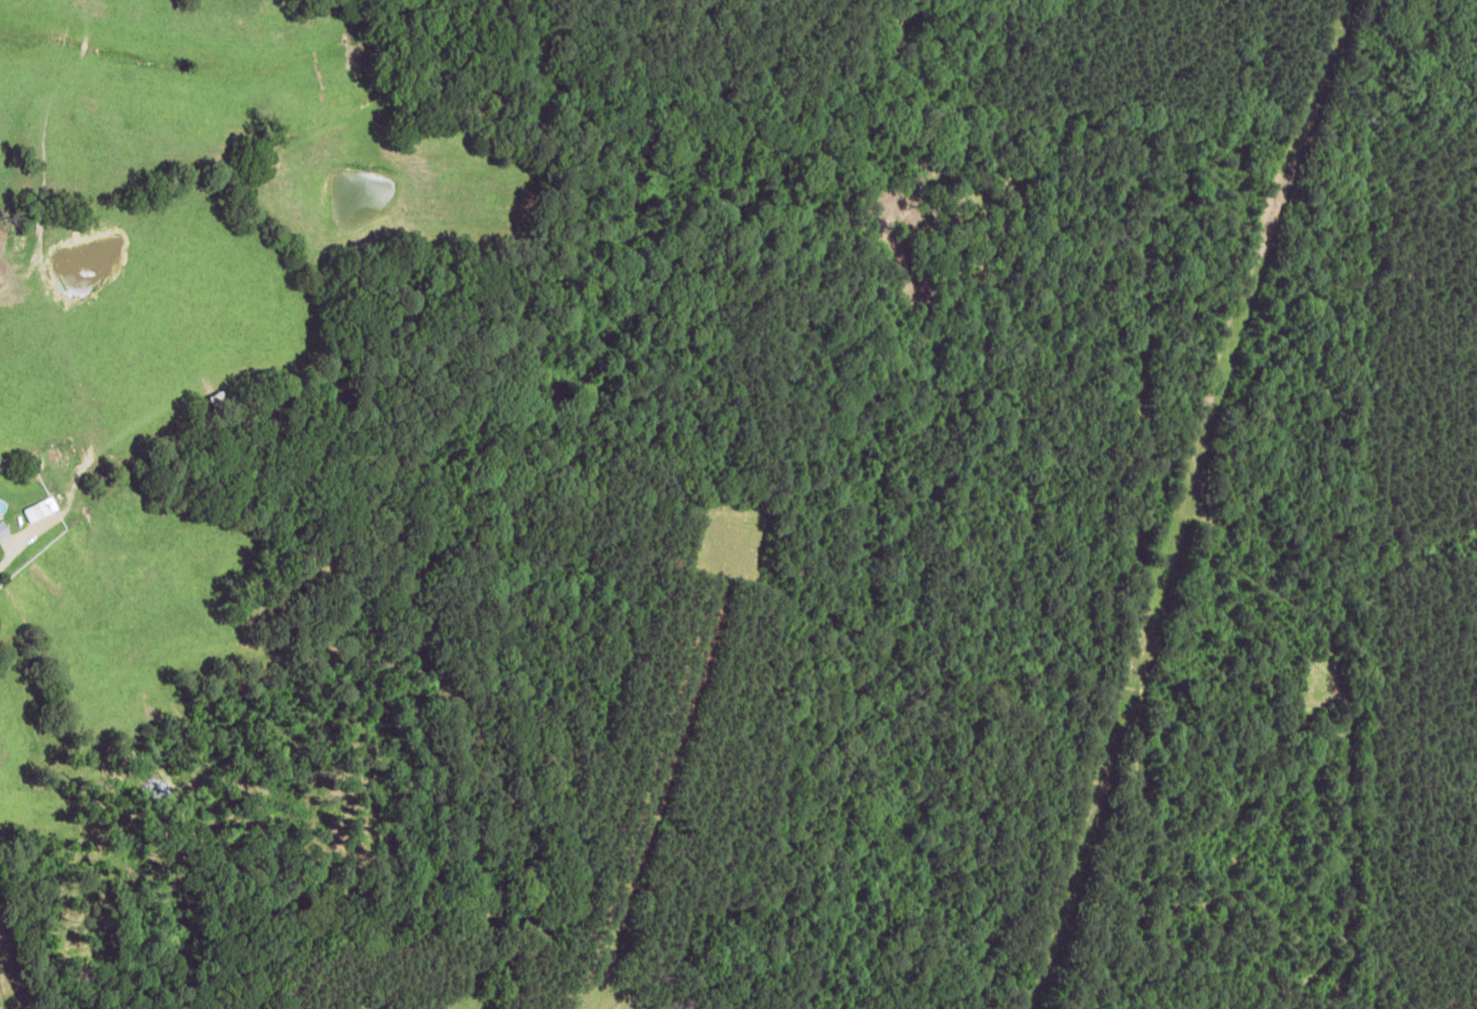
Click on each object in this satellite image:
building: (42, 509)
building: (4, 530)

